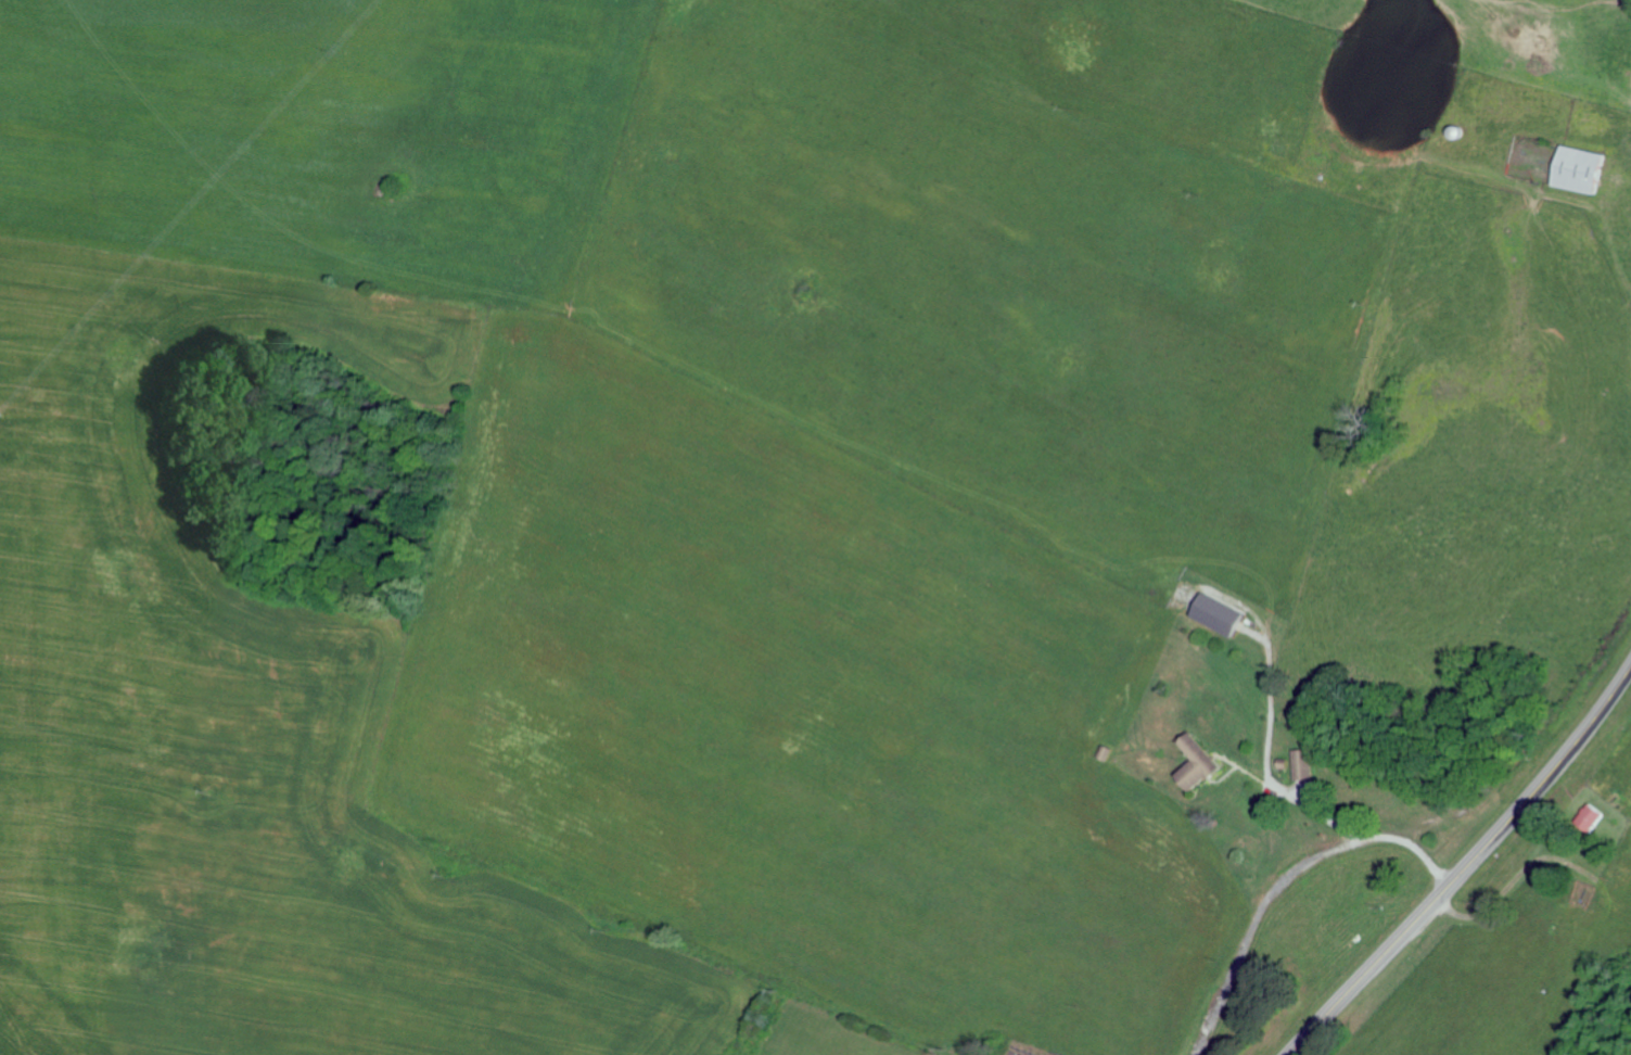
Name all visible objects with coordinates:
road: (1529, 166)
building: (1589, 170)
building: (1213, 612)
building: (1193, 762)
building: (1589, 816)
road: (1465, 865)

